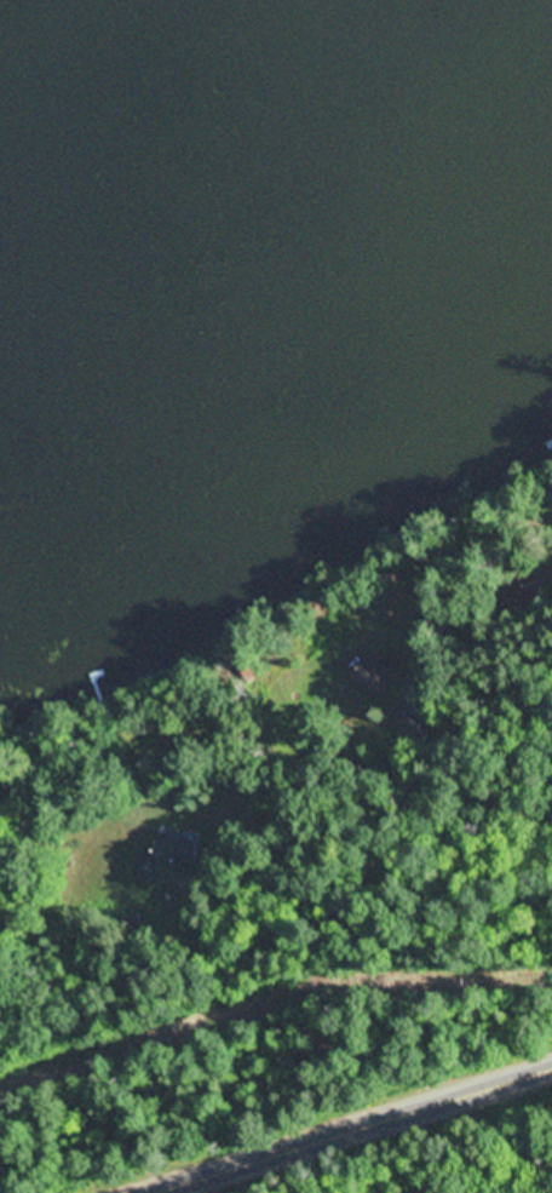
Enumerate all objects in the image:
road: (488, 612)
road: (398, 718)
road: (343, 1129)

